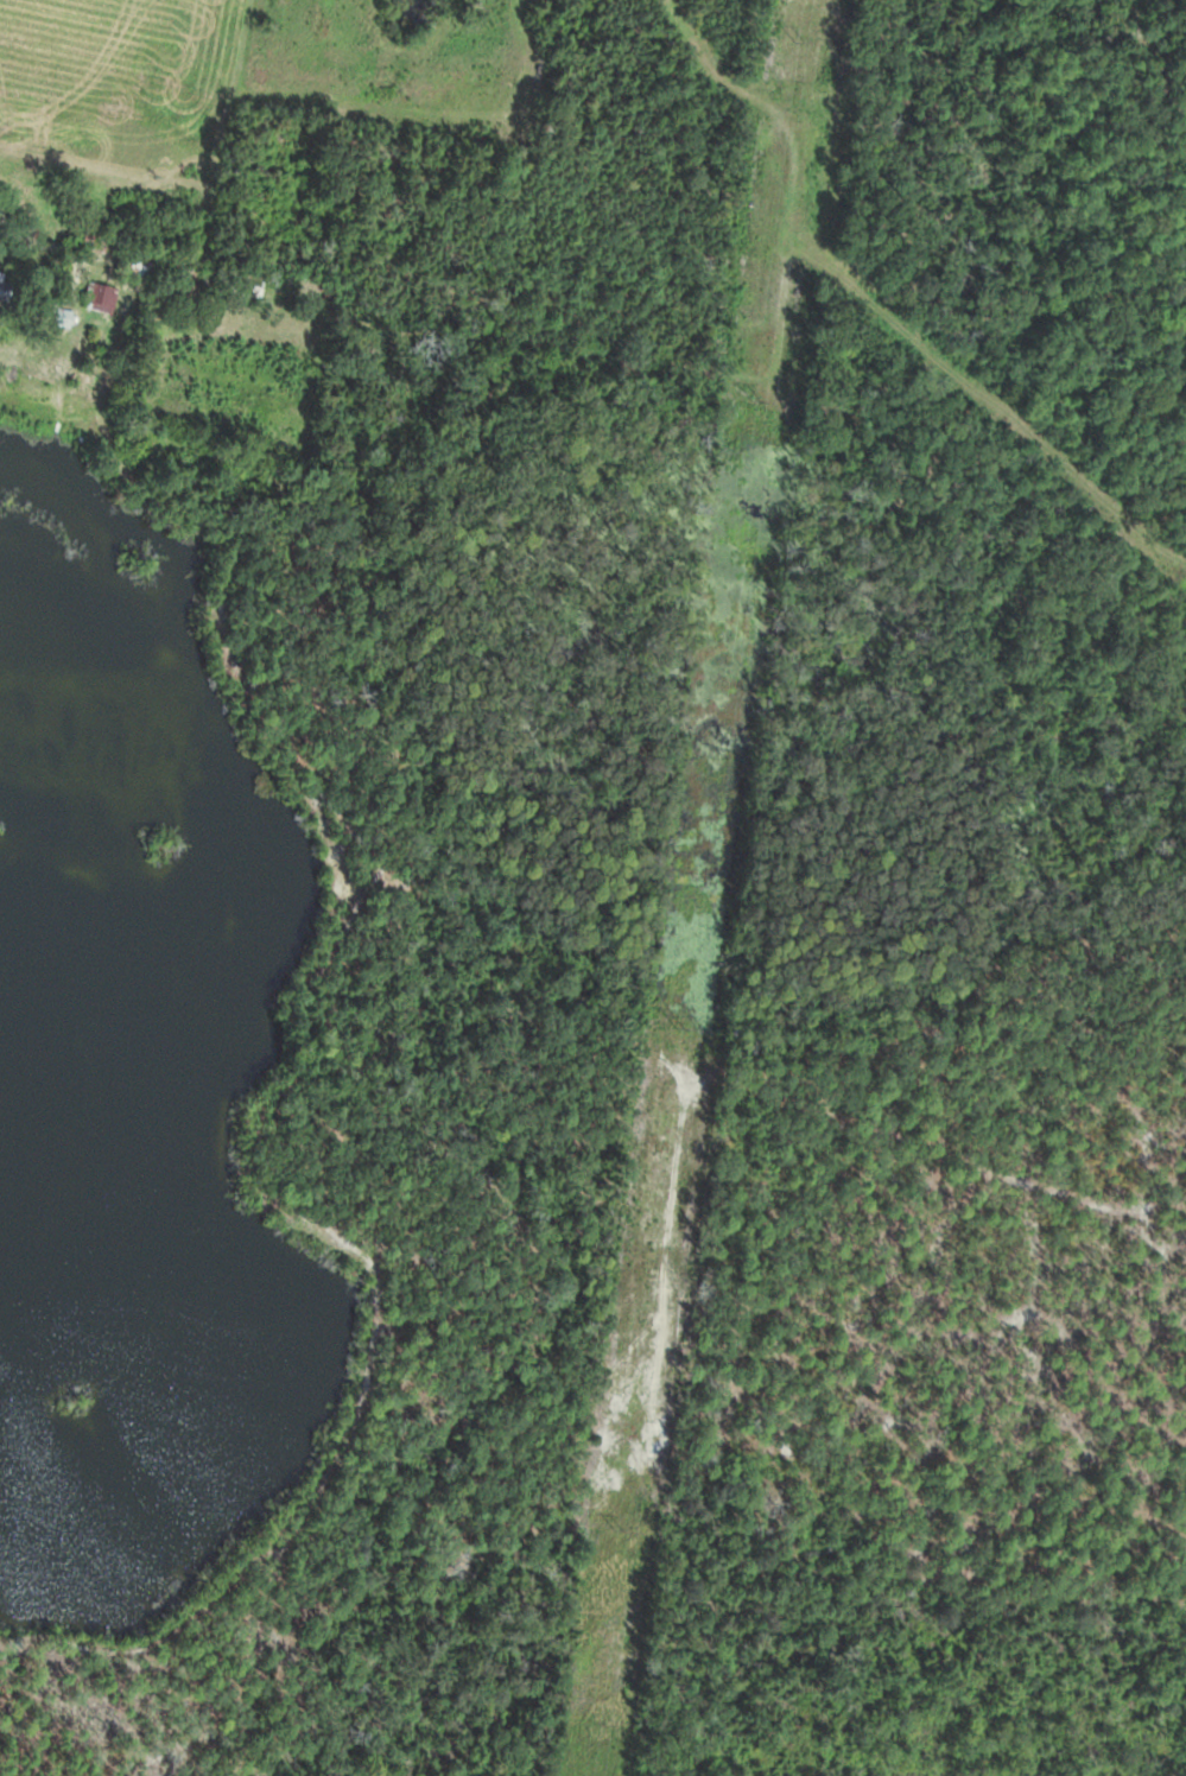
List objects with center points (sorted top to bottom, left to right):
power tower: (810, 37)
building: (89, 245)
road: (52, 247)
building: (141, 266)
building: (96, 299)
building: (58, 318)
power tower: (763, 398)
power tower: (684, 1032)
road: (264, 1131)
power tower: (623, 1528)

